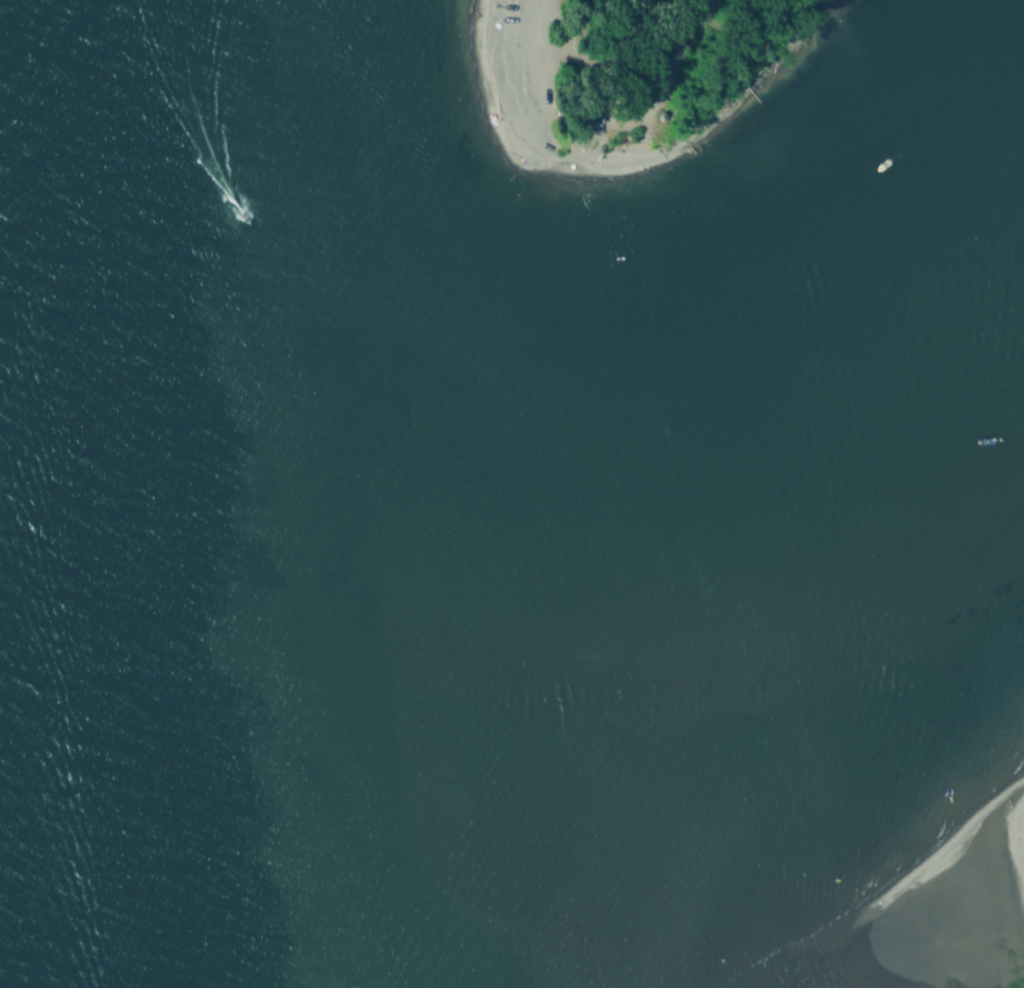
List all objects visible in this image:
road: (614, 118)
river: (539, 581)

